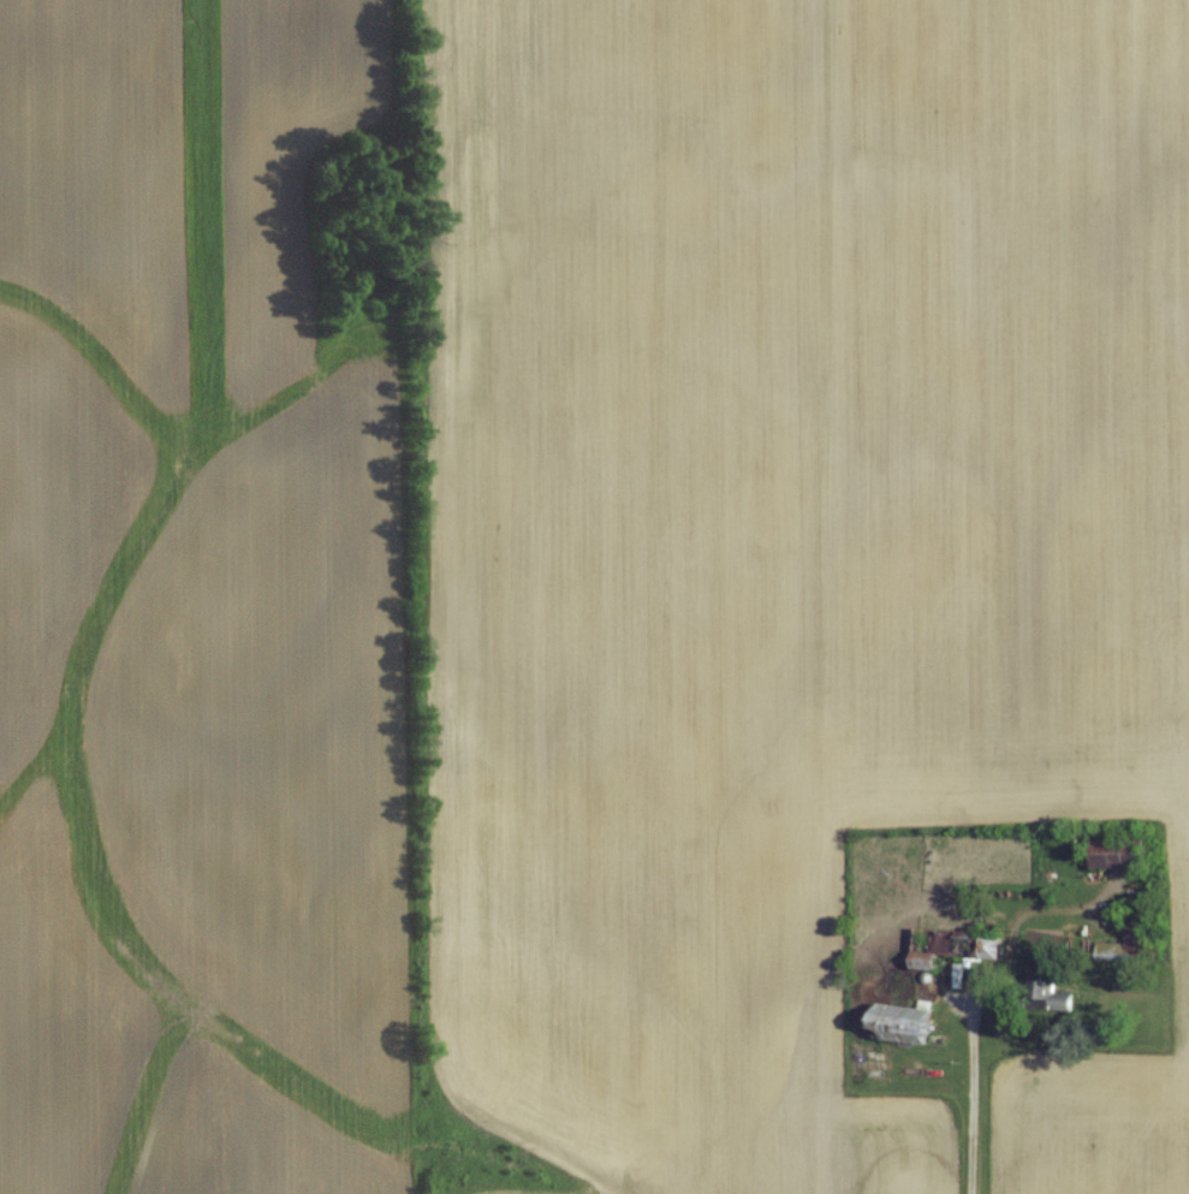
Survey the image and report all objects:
building: (1122, 851)
building: (1130, 935)
building: (958, 941)
building: (910, 1021)
road: (973, 1085)

